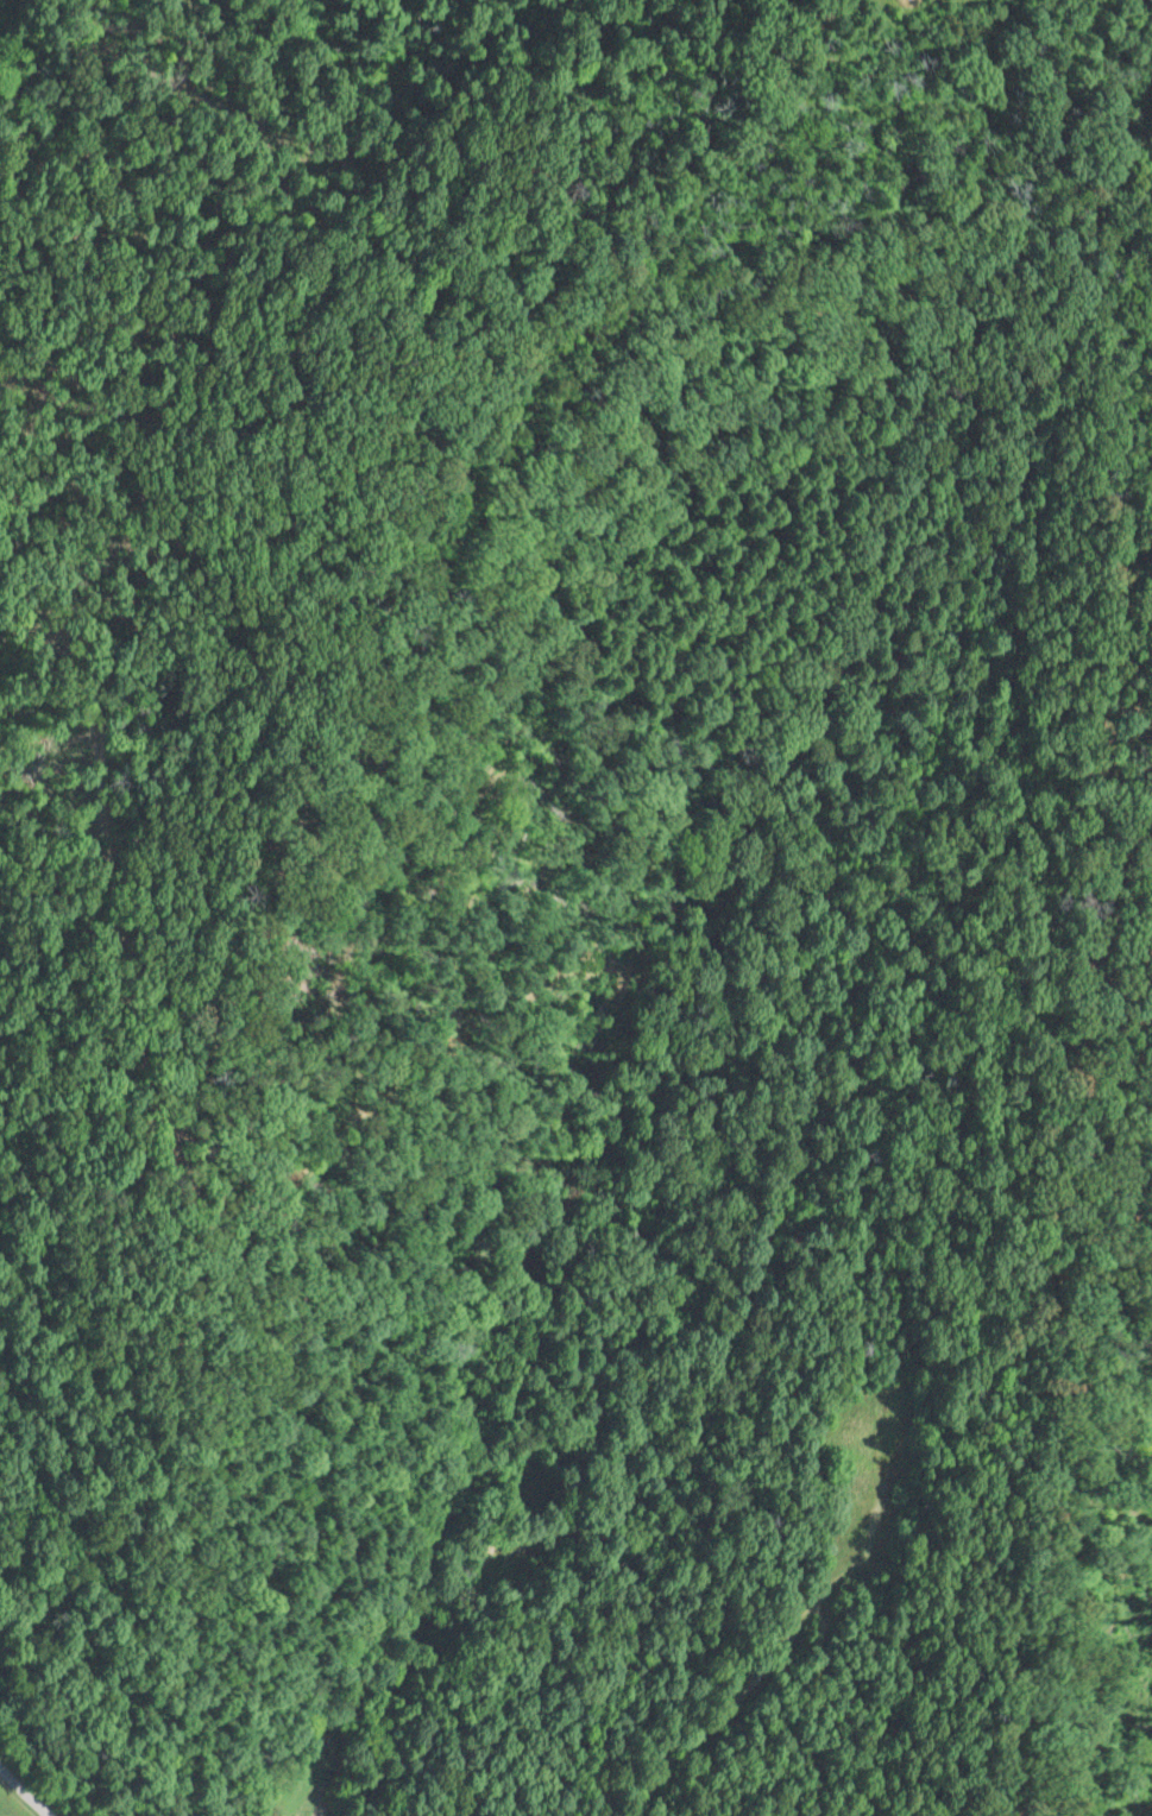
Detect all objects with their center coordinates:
road: (26, 1790)

